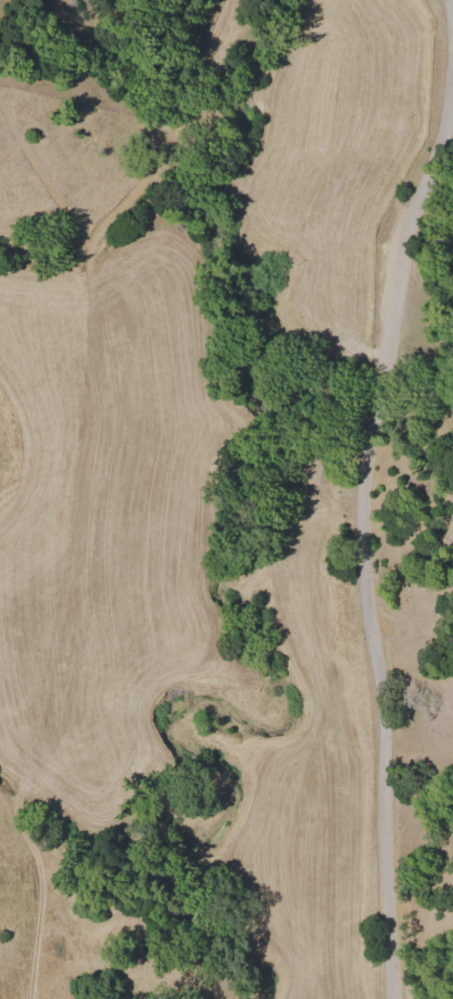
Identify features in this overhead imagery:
road: (372, 493)
crop: (219, 504)

